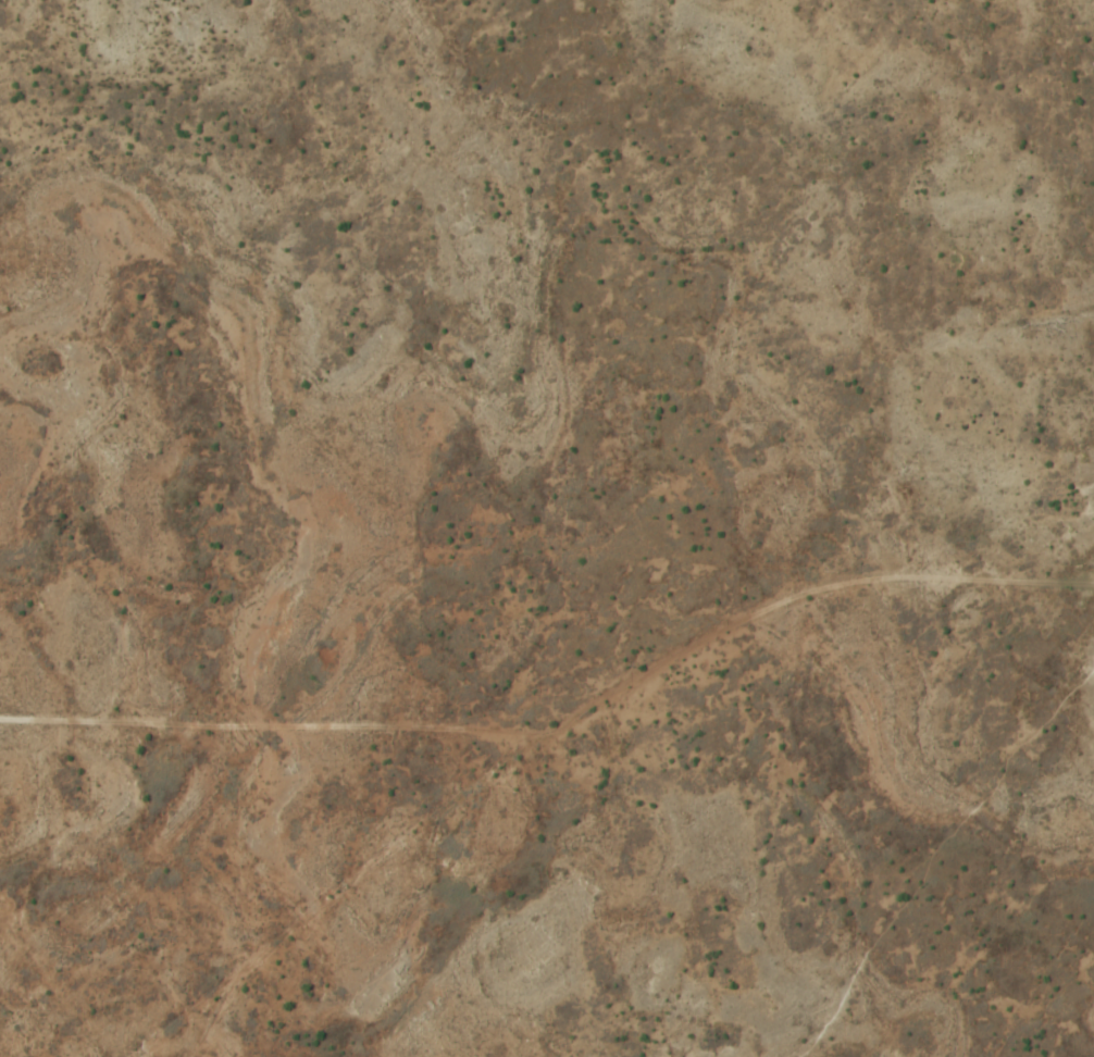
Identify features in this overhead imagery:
road: (589, 732)

